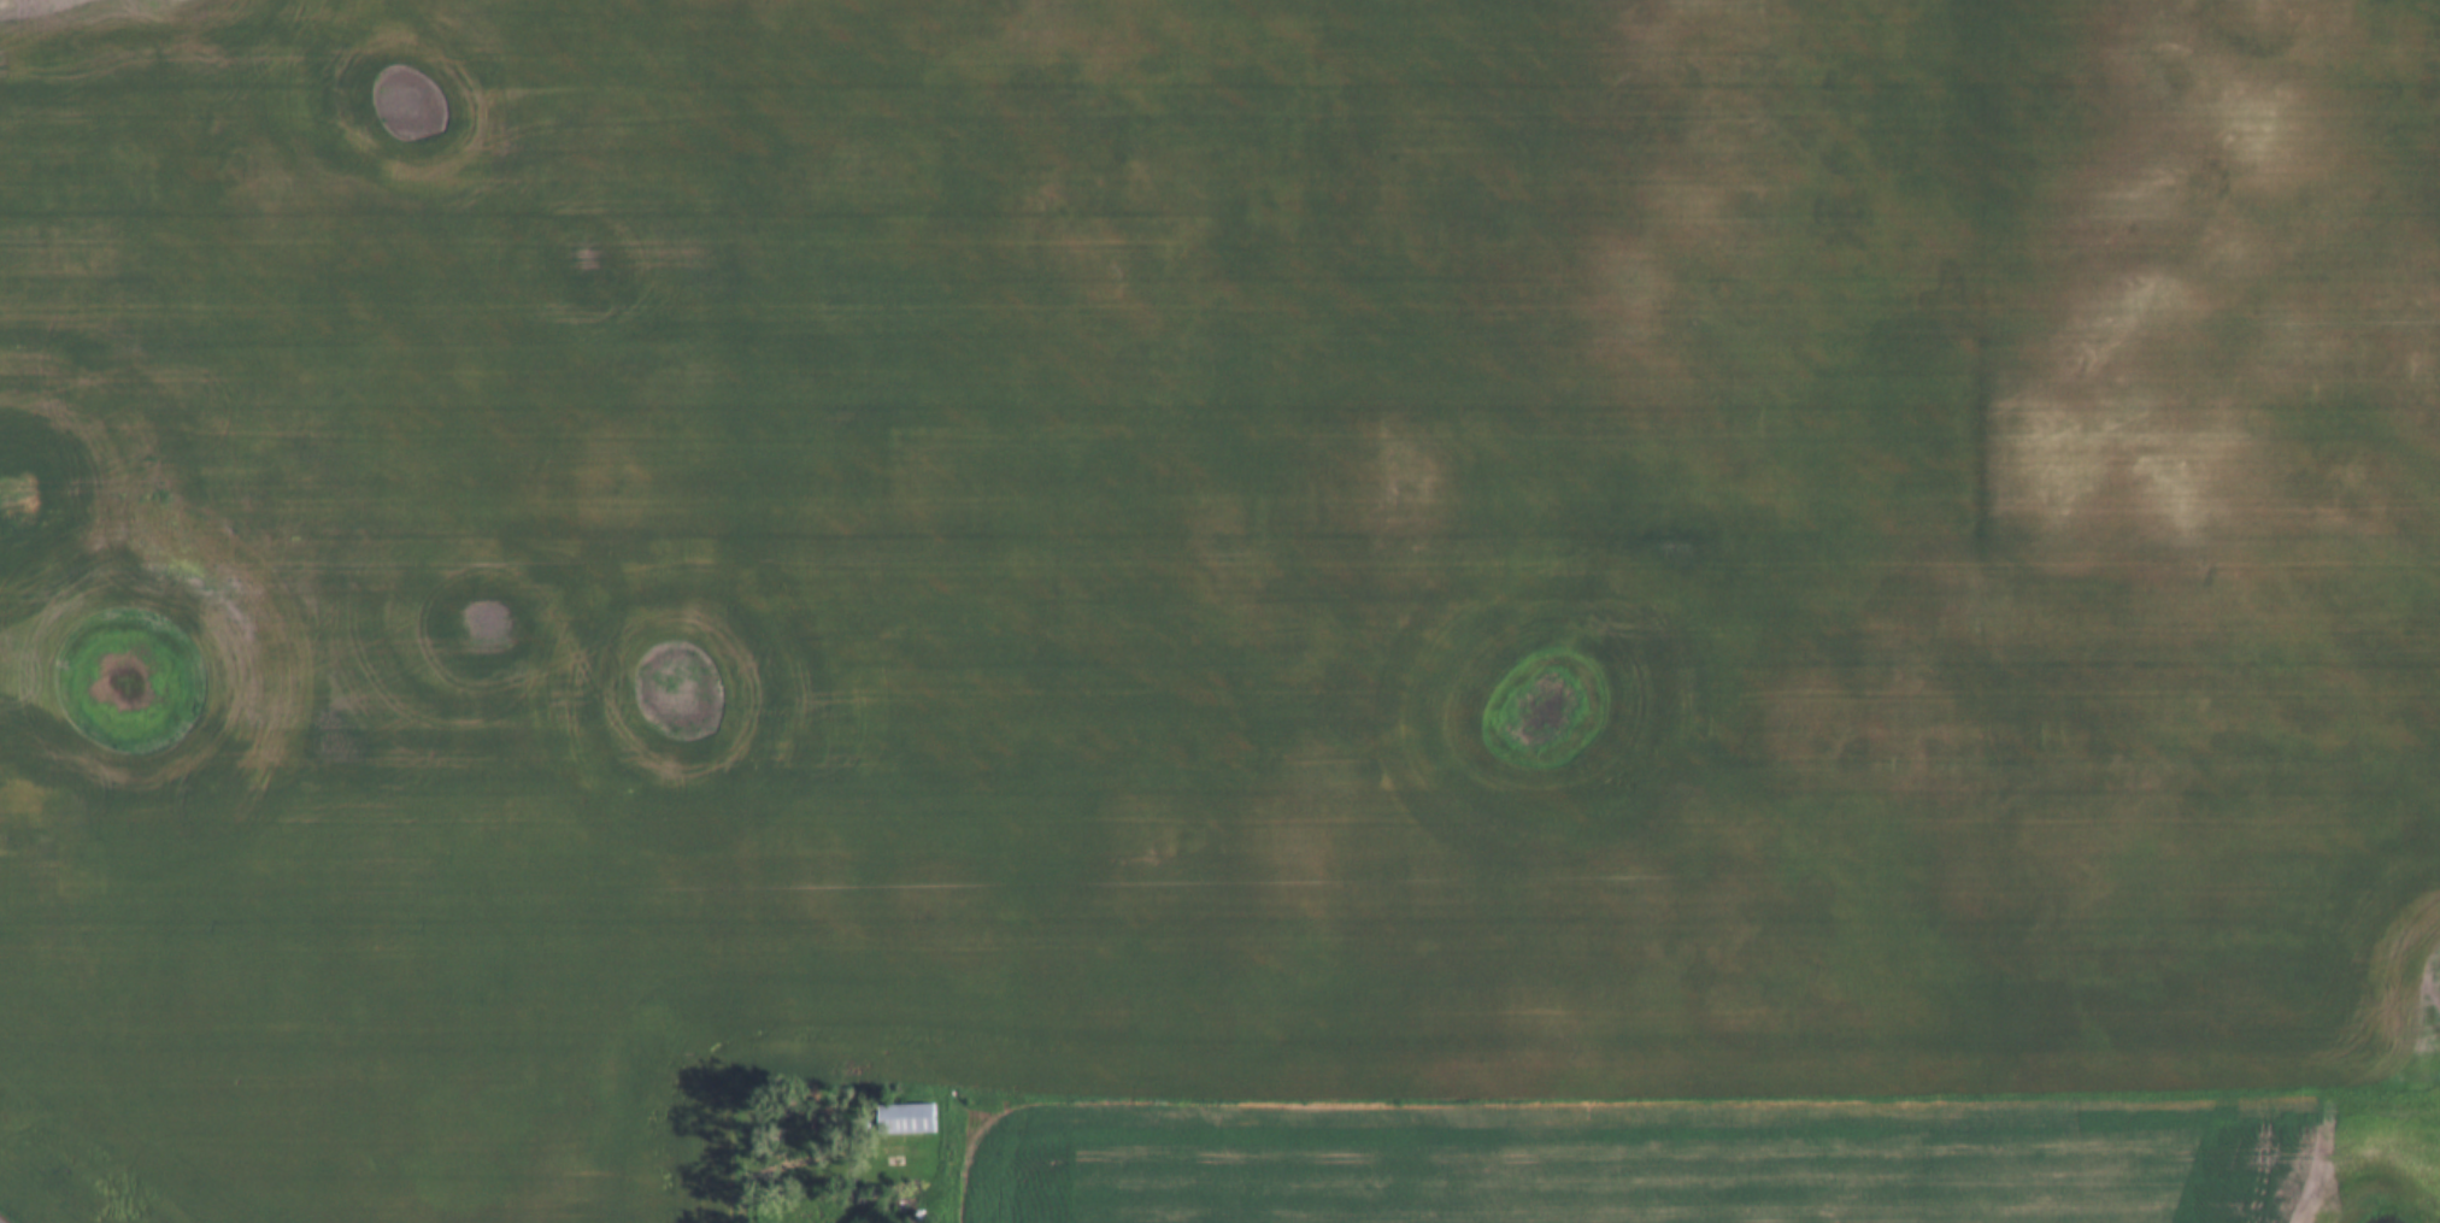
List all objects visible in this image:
building: (896, 1101)
building: (912, 1118)
crop: (1716, 1160)
road: (781, 1162)

